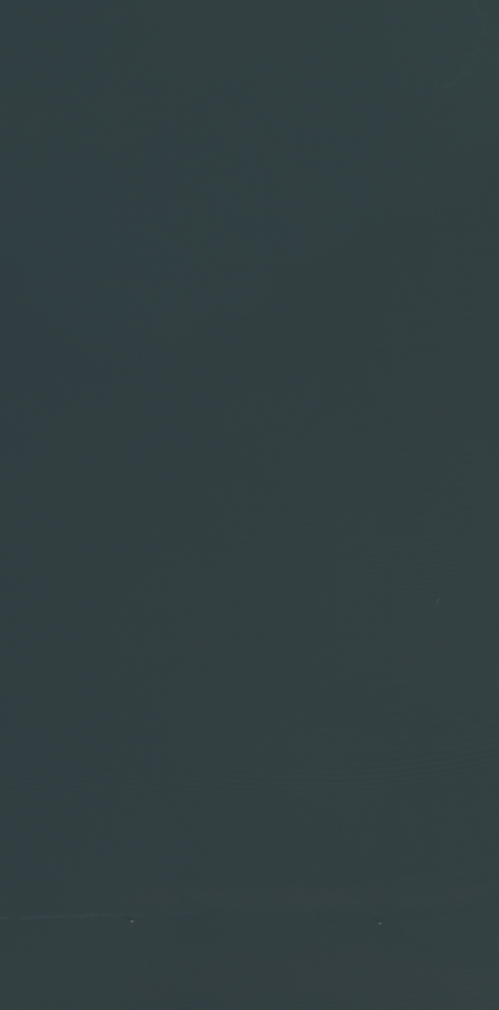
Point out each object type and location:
river: (249, 939)

